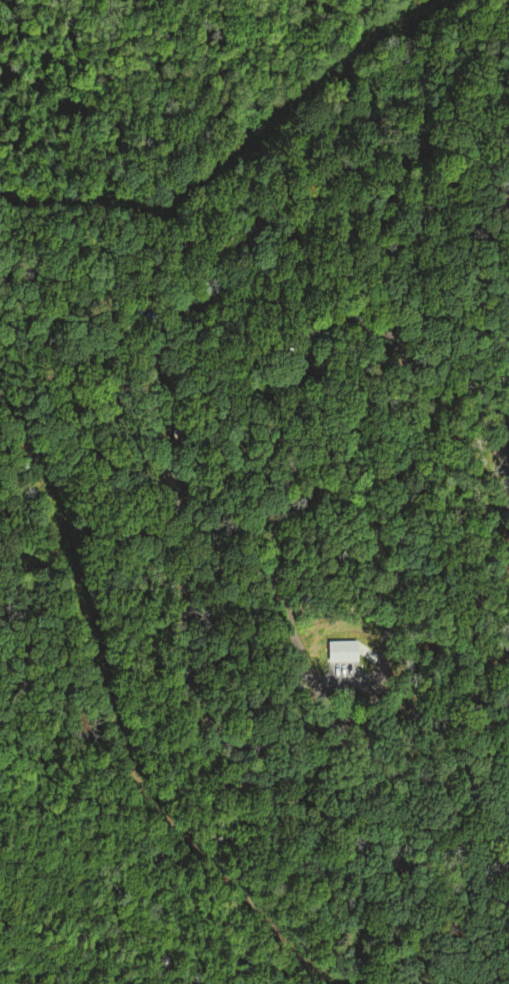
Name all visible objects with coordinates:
road: (401, 201)
road: (479, 235)
road: (488, 279)
building: (178, 430)
road: (506, 470)
road: (281, 484)
road: (172, 492)
park: (259, 503)
road: (482, 567)
road: (215, 616)
road: (442, 675)
building: (412, 713)
road: (430, 715)
road: (442, 726)
road: (441, 784)
road: (507, 795)
road: (507, 810)
road: (151, 857)
road: (495, 976)

